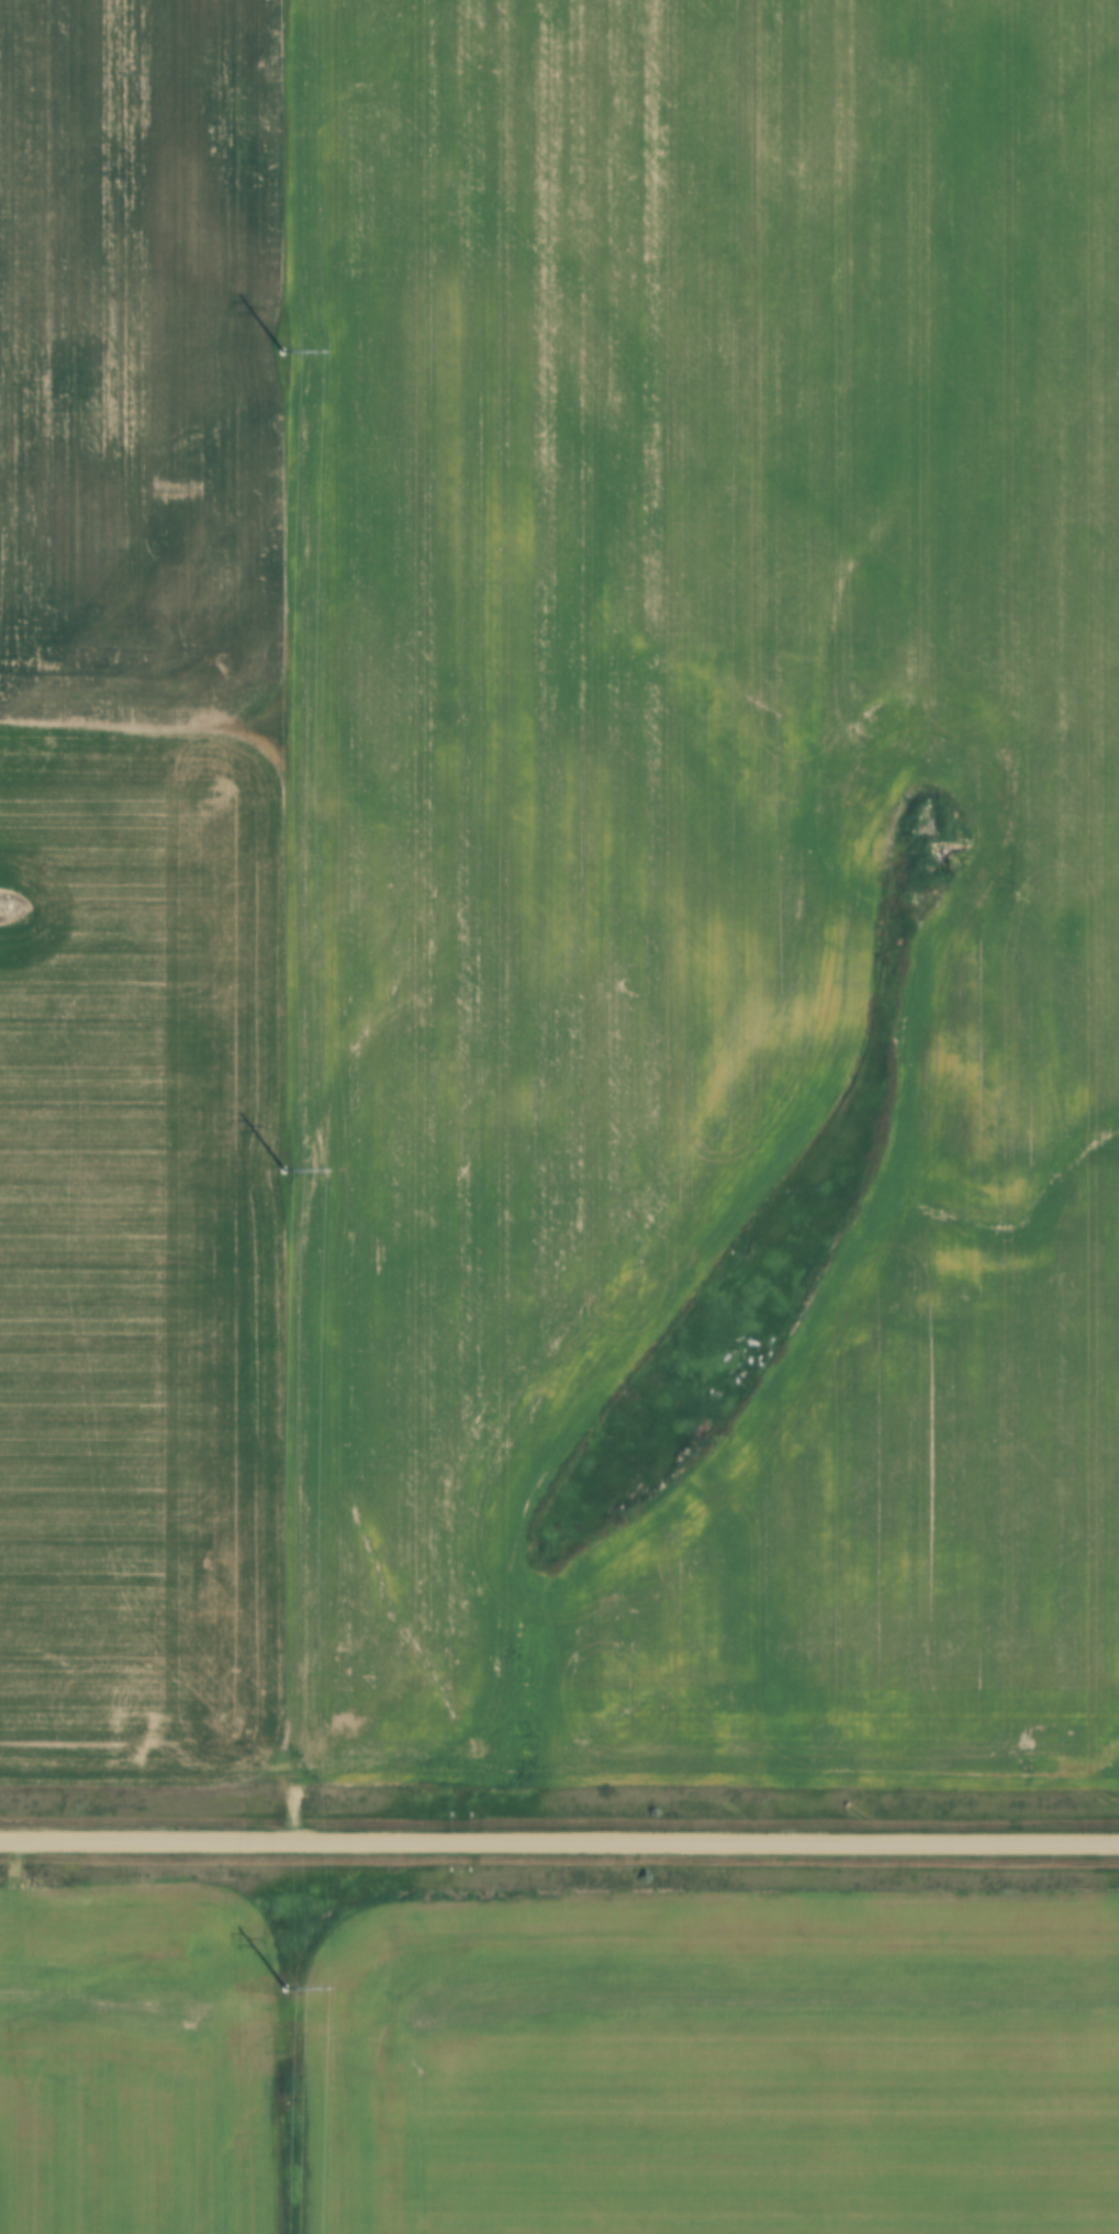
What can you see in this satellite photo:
power tower: (281, 349)
power tower: (282, 1168)
road: (559, 1842)
power tower: (283, 1986)

